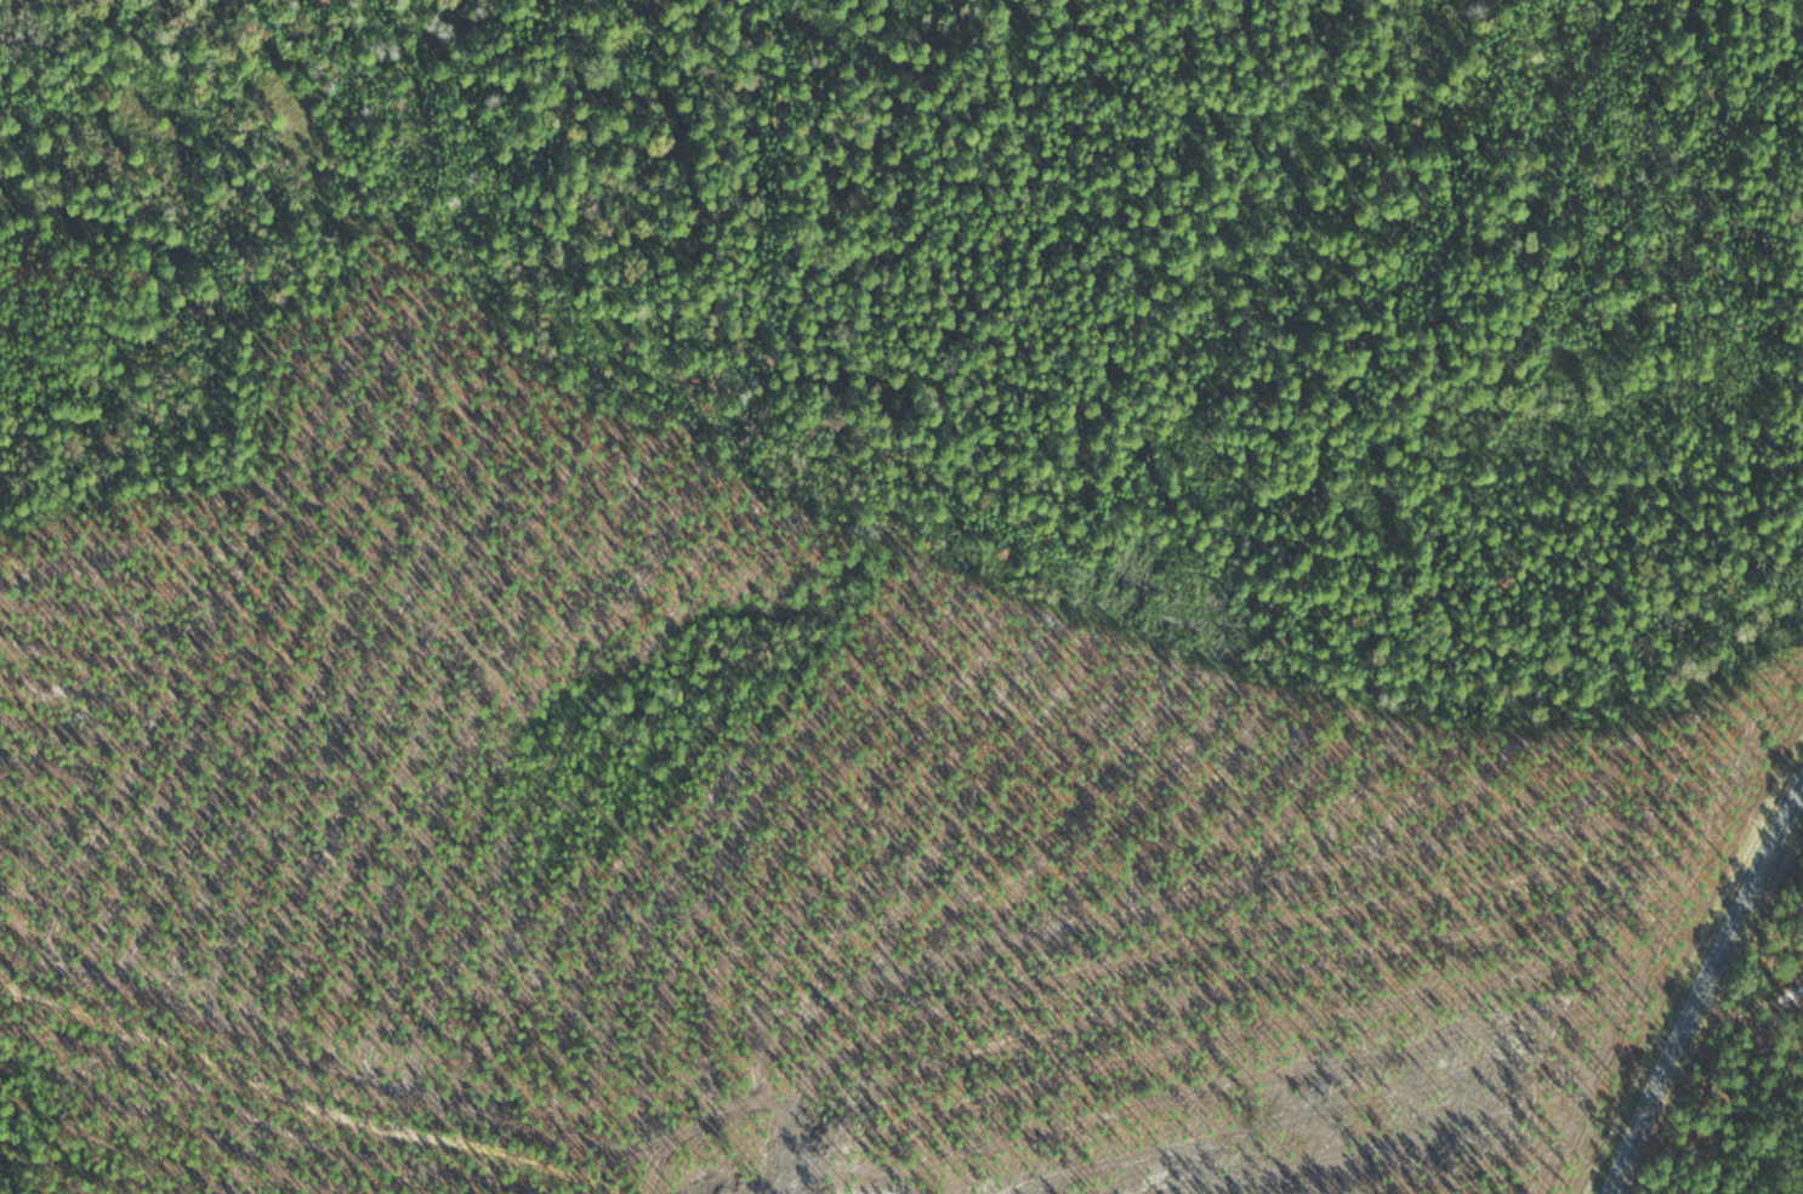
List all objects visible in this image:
road: (1710, 1001)
road: (335, 1048)
road: (488, 1153)

